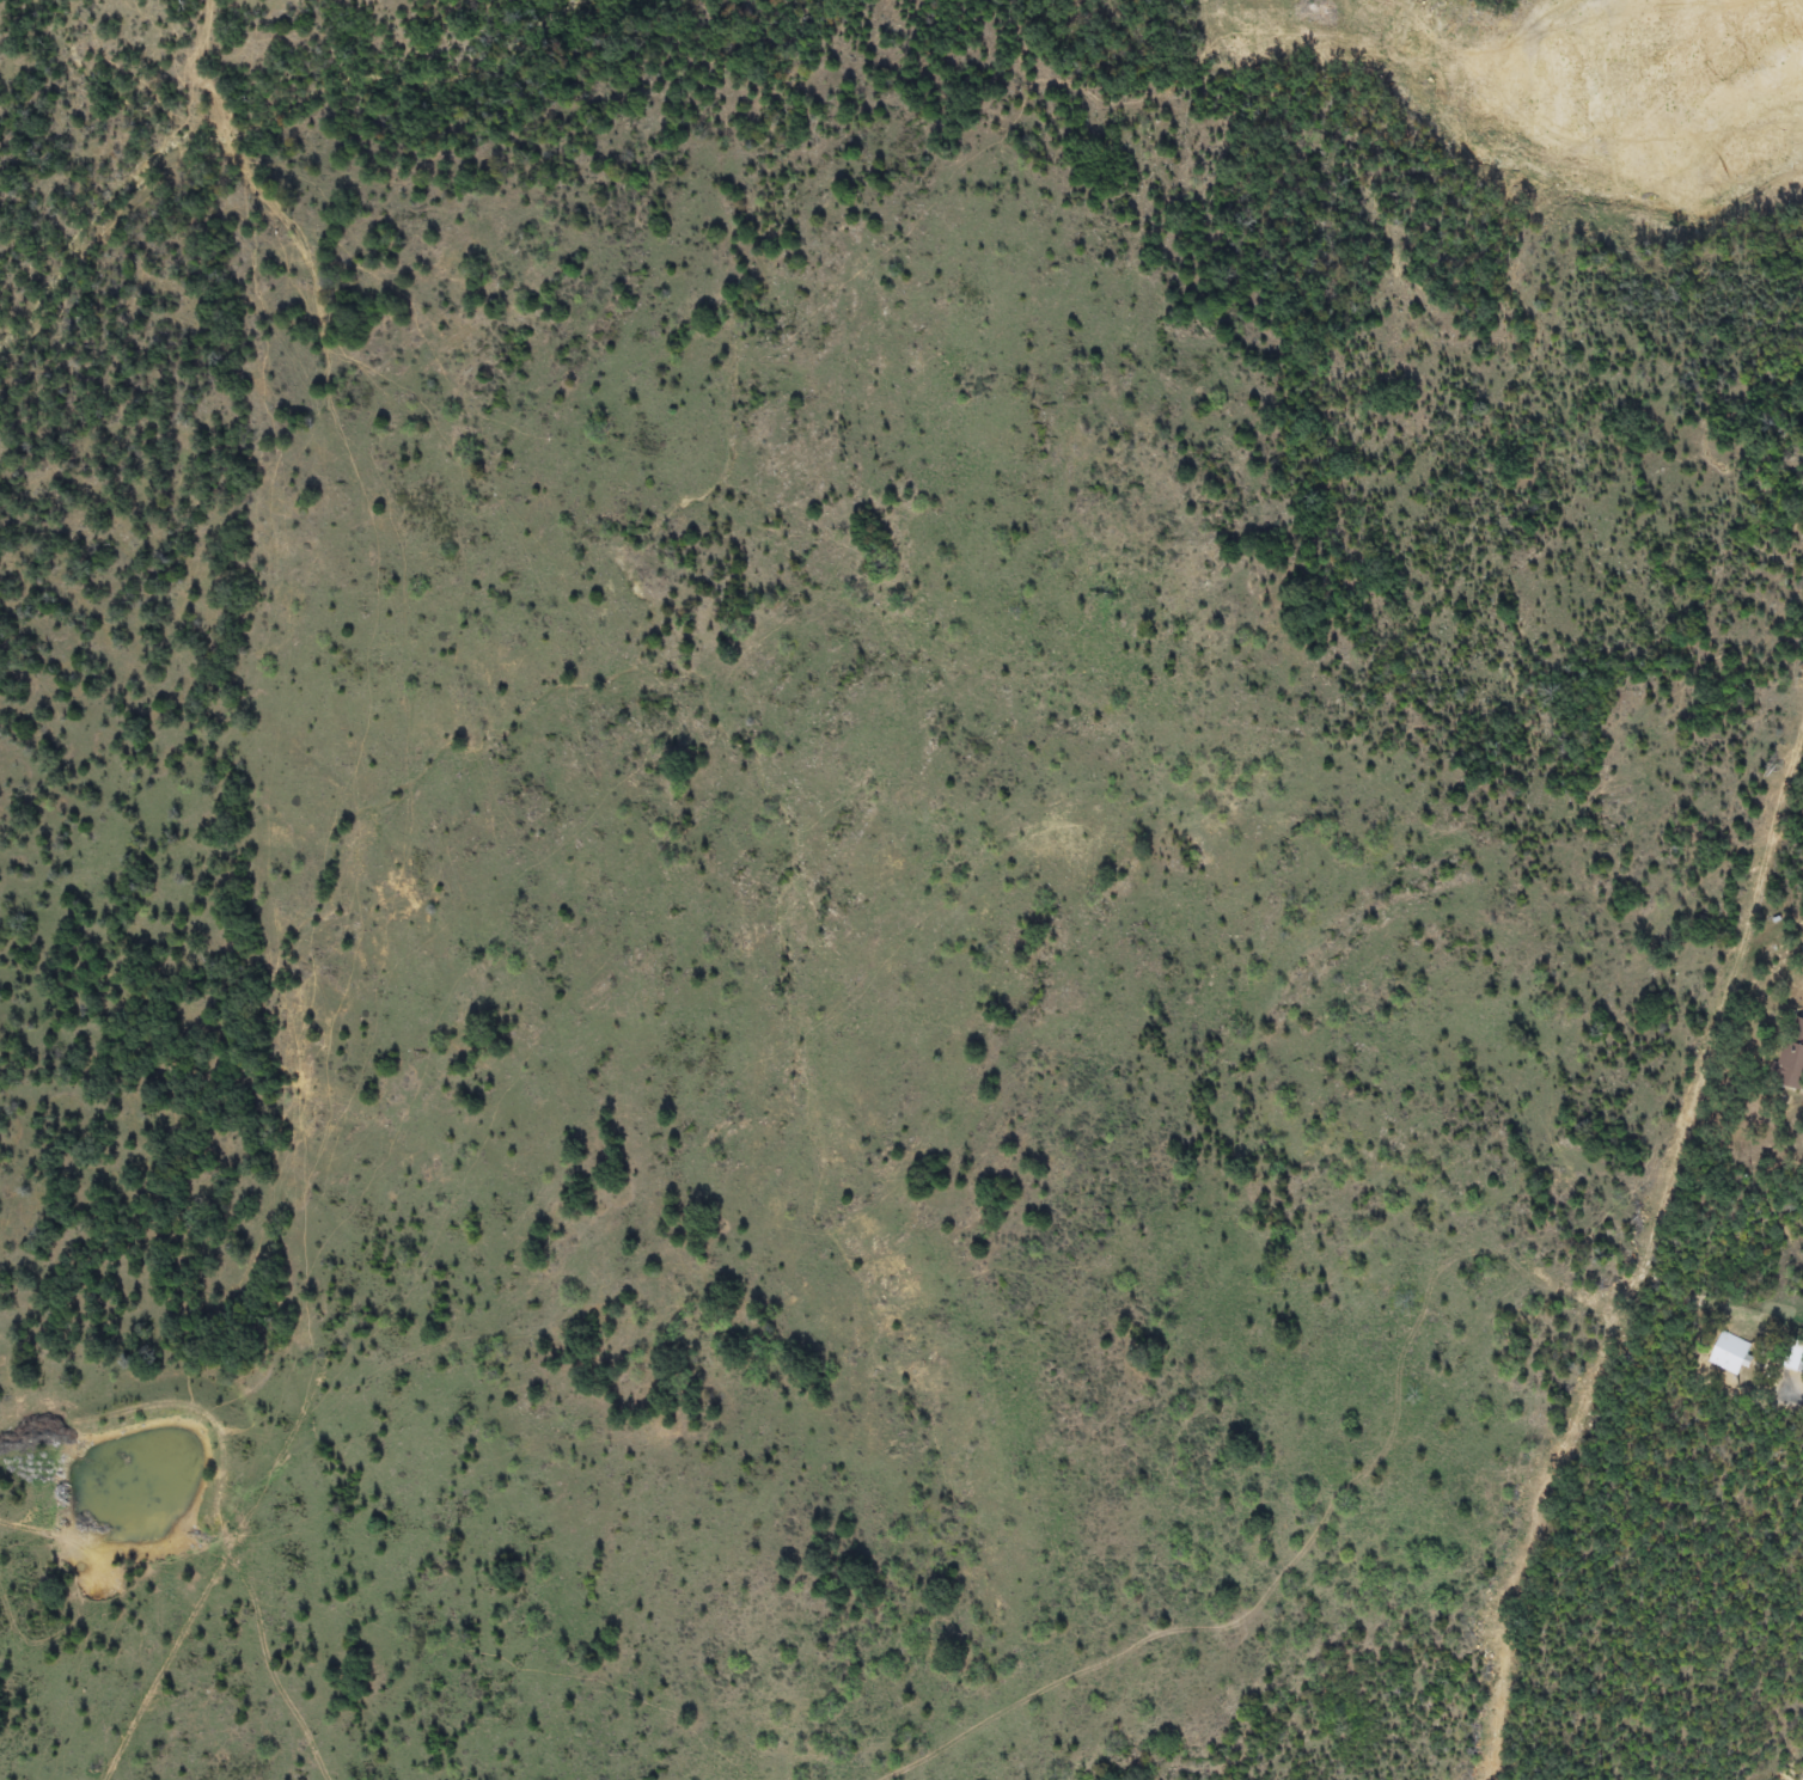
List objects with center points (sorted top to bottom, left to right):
building: (1792, 1057)
building: (1797, 1358)
road: (1796, 1400)

